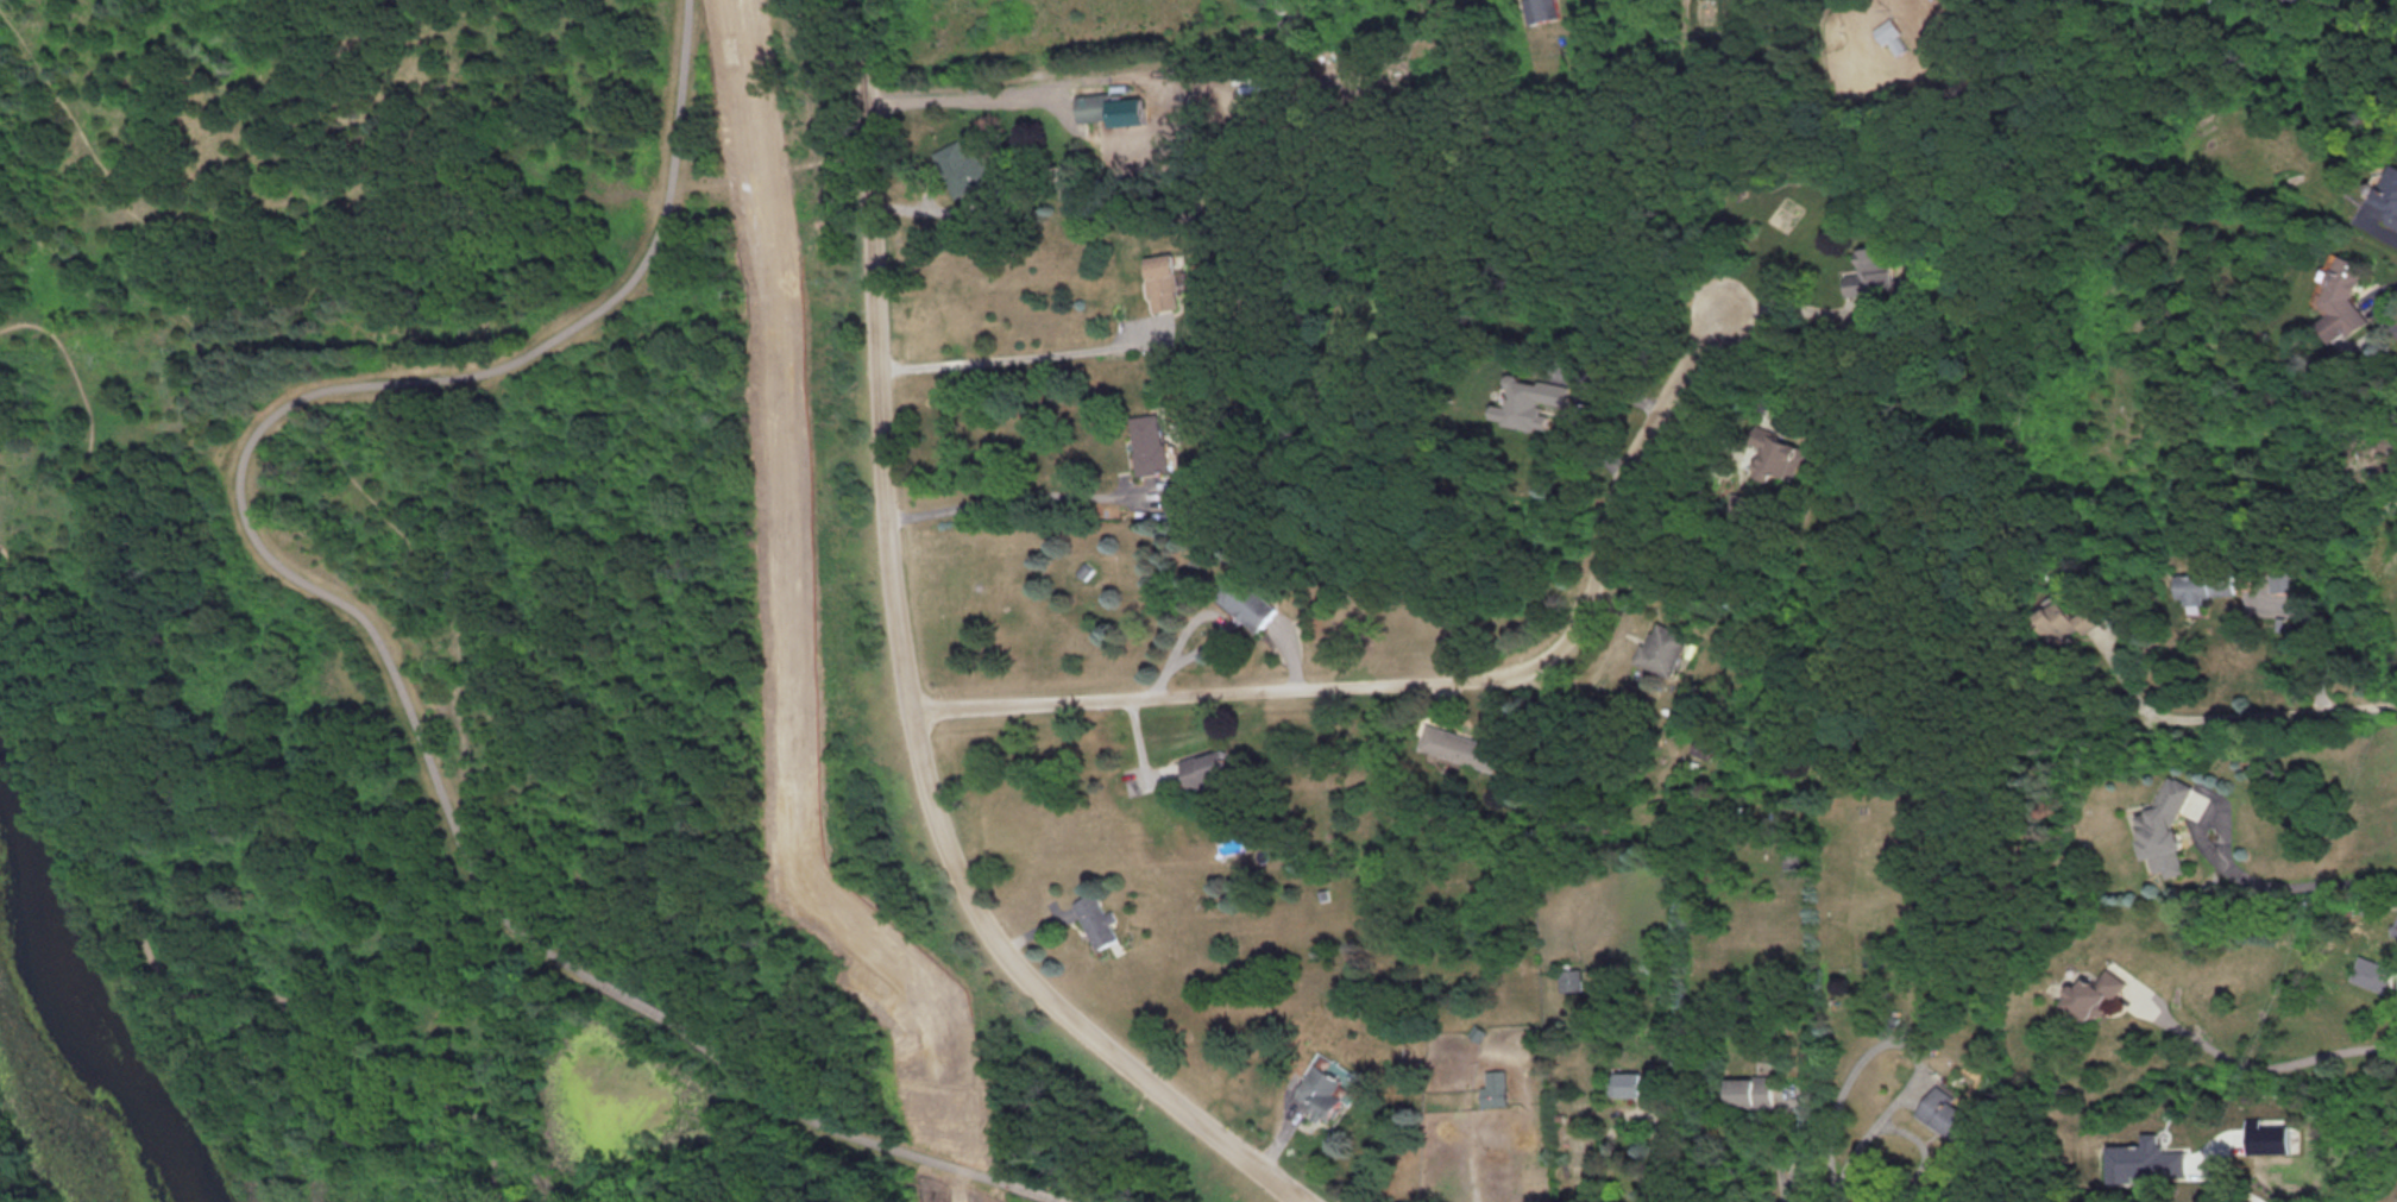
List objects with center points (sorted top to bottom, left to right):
building: (1543, 10)
road: (2377, 10)
building: (1889, 33)
building: (1112, 108)
building: (961, 166)
building: (2391, 193)
road: (936, 209)
building: (2396, 220)
road: (153, 237)
building: (1871, 271)
building: (1166, 281)
building: (2347, 300)
road: (1024, 354)
road: (1585, 399)
building: (1539, 401)
road: (264, 427)
building: (1150, 442)
building: (1779, 454)
road: (336, 466)
road: (1002, 496)
building: (2208, 586)
building: (1245, 600)
road: (1198, 611)
building: (2070, 617)
park: (498, 641)
road: (2314, 642)
road: (126, 644)
building: (1660, 648)
road: (904, 679)
road: (1441, 682)
road: (460, 704)
road: (2246, 715)
building: (1461, 745)
building: (1701, 748)
building: (1207, 766)
road: (2209, 810)
building: (2168, 827)
building: (1793, 851)
road: (2311, 881)
building: (1095, 919)
building: (2393, 931)
building: (2370, 973)
building: (1571, 978)
building: (2096, 994)
river: (76, 1000)
road: (673, 1024)
road: (1902, 1038)
road: (2270, 1064)
building: (1637, 1083)
building: (1329, 1085)
building: (1493, 1087)
building: (1753, 1090)
road: (1792, 1100)
building: (1949, 1113)
building: (2269, 1137)
road: (872, 1140)
road: (1925, 1154)
building: (2149, 1159)
road: (1034, 1192)
road: (1785, 1198)
road: (1835, 1198)

